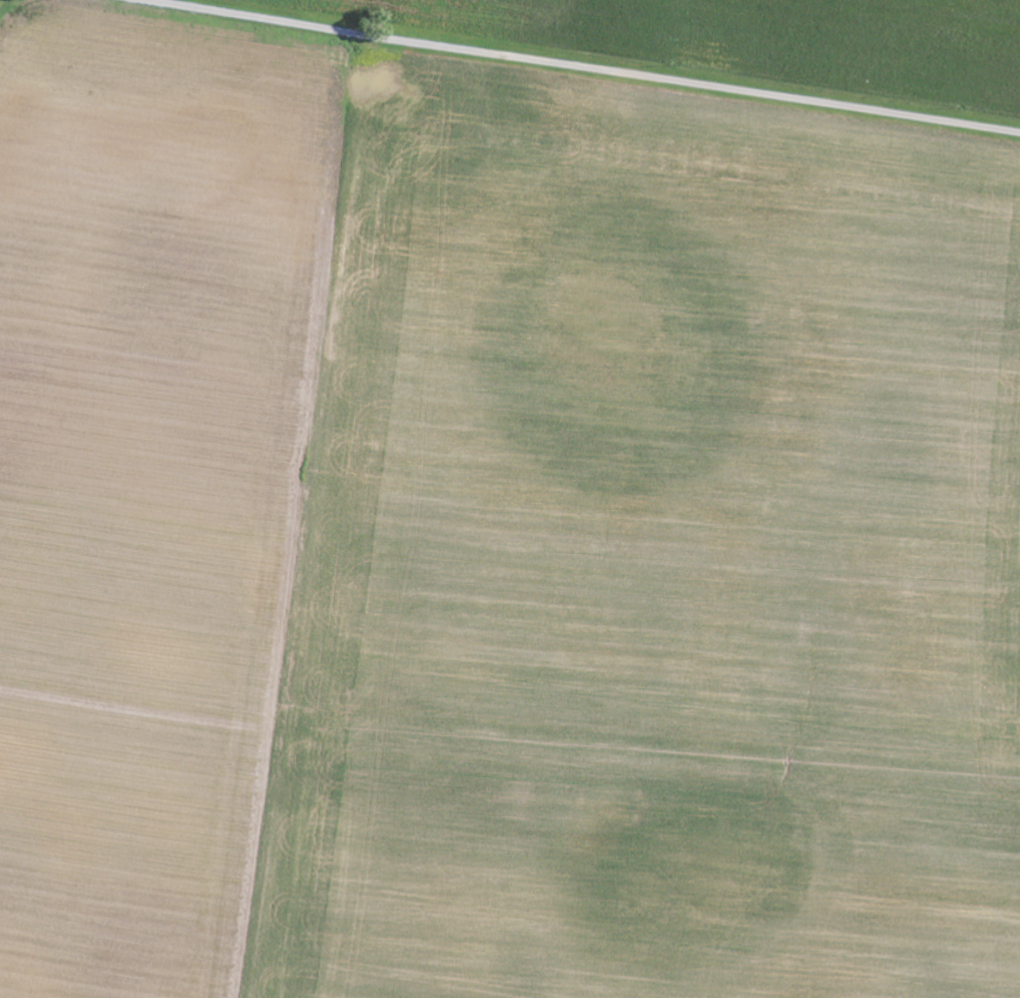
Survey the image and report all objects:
road: (584, 66)

